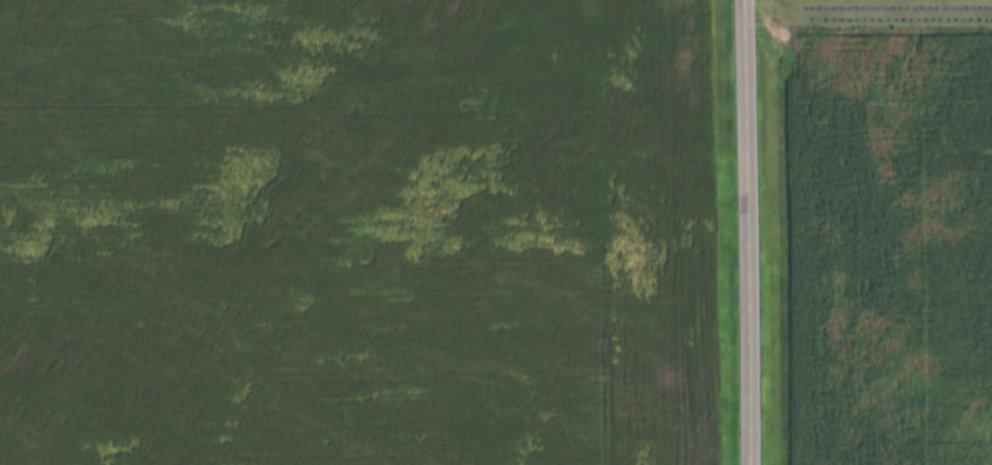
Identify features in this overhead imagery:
road: (744, 232)

